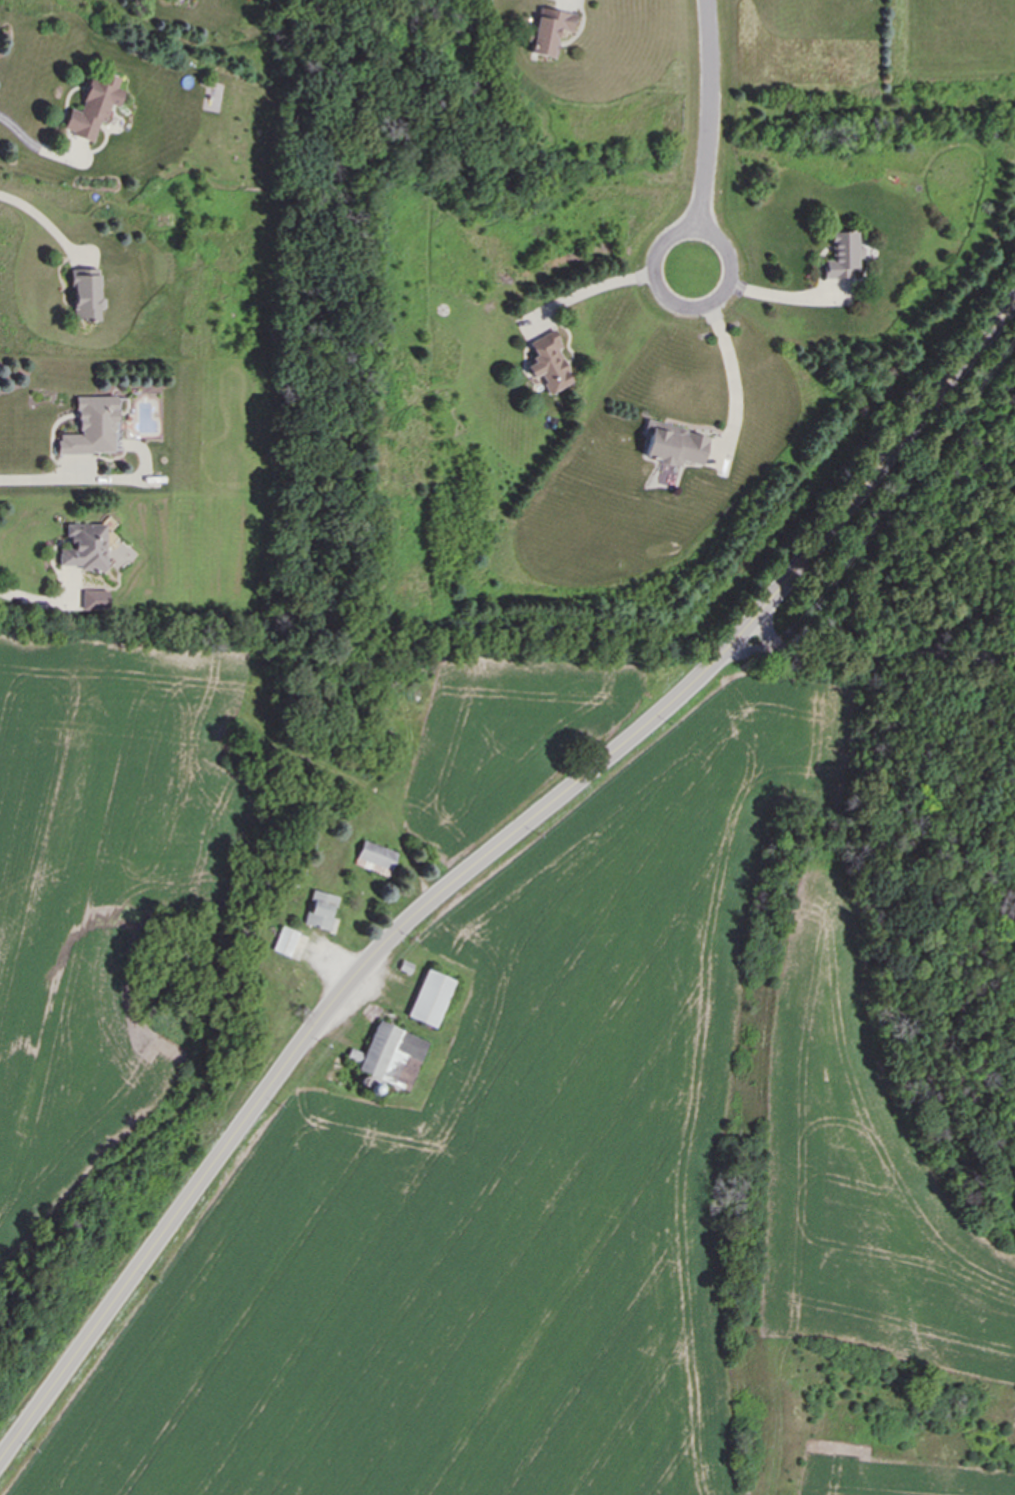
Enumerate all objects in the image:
building: (549, 31)
building: (93, 107)
road: (23, 134)
road: (708, 135)
road: (39, 217)
building: (843, 256)
road: (609, 282)
road: (761, 292)
building: (86, 294)
road: (725, 345)
building: (548, 363)
building: (92, 427)
building: (674, 444)
road: (43, 478)
building: (85, 547)
building: (95, 599)
road: (40, 601)
road: (871, 657)
building: (375, 858)
road: (482, 859)
building: (320, 910)
building: (289, 943)
building: (431, 998)
crop: (587, 1160)

